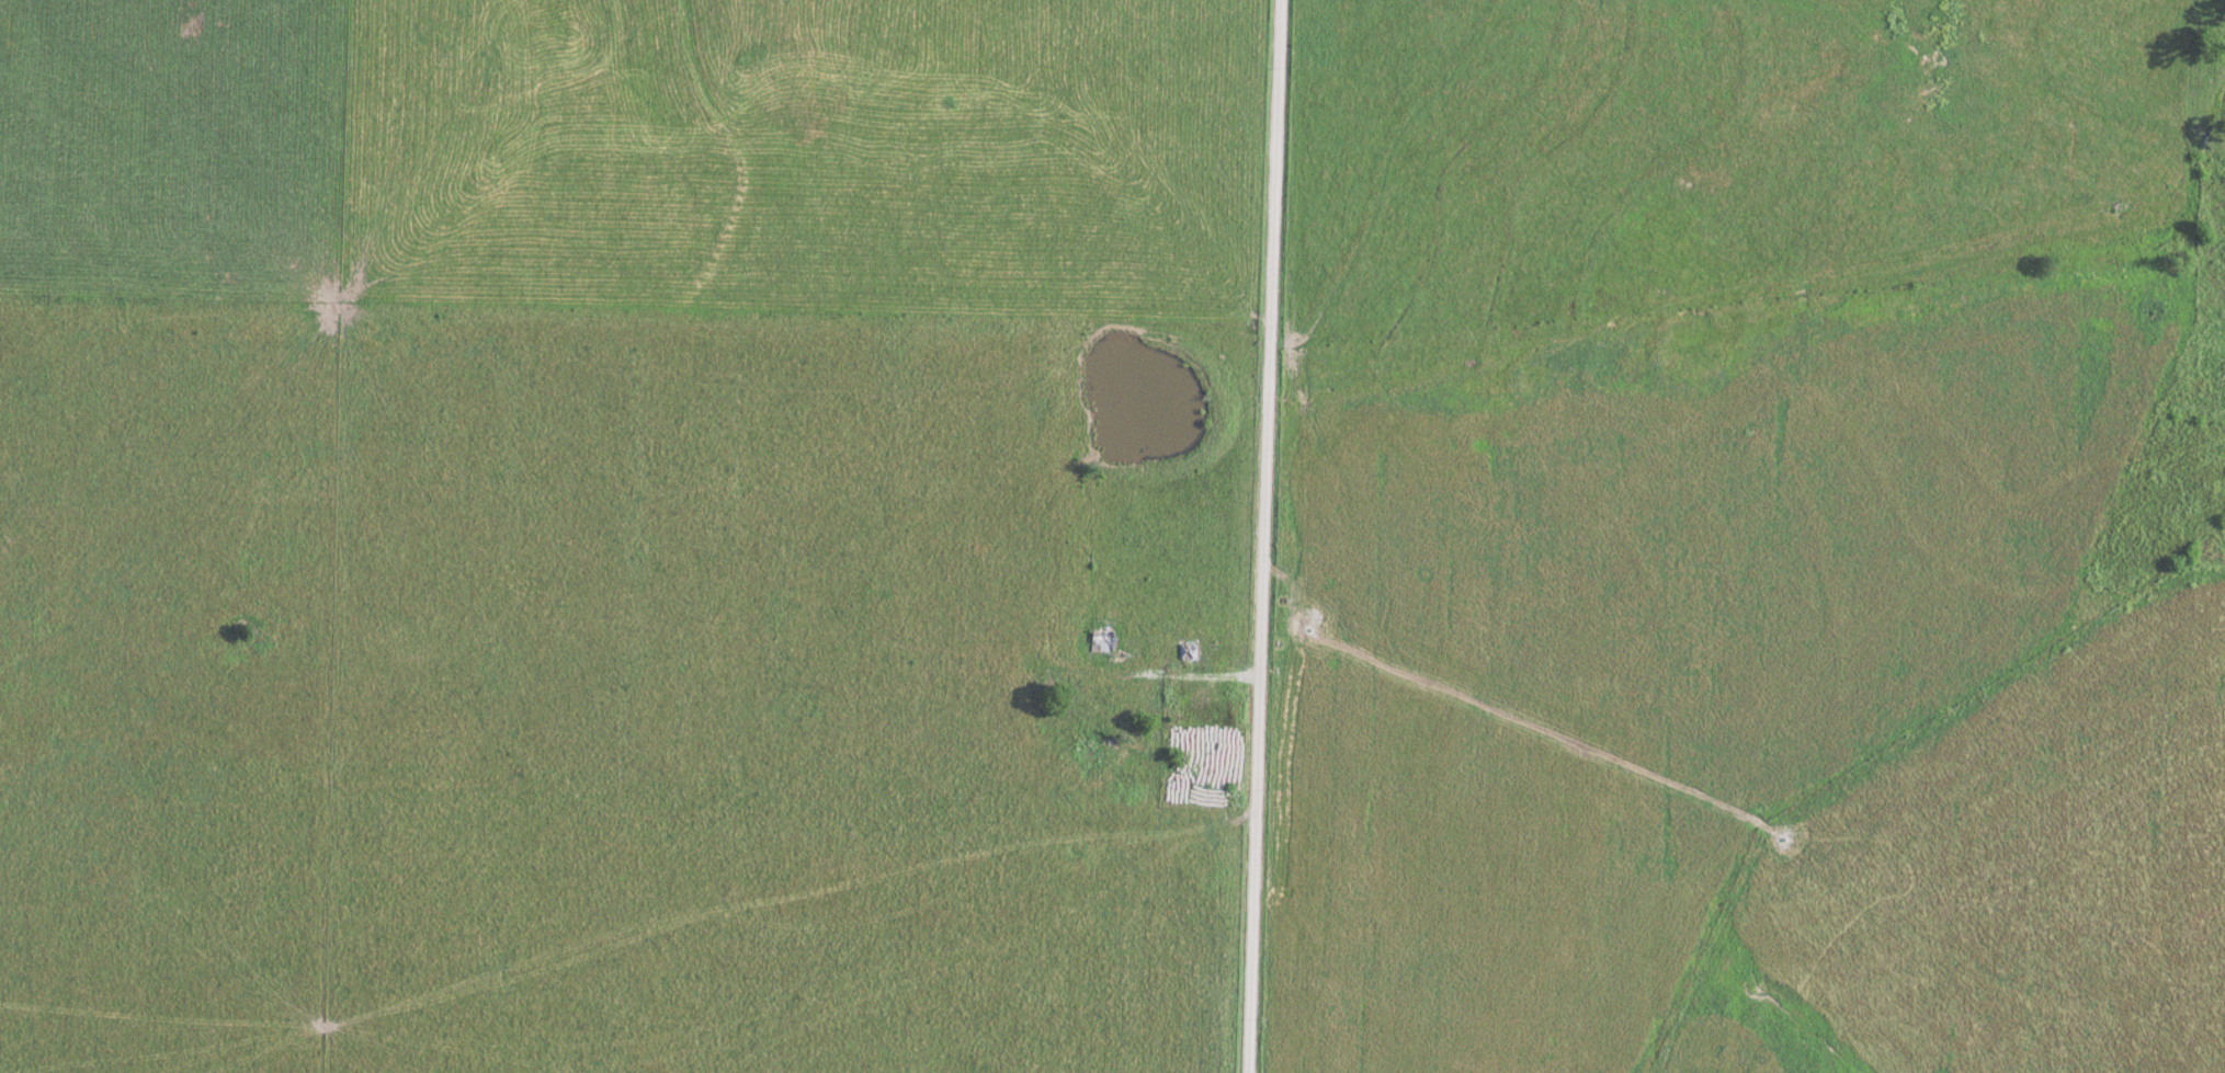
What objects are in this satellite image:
road: (1262, 536)
building: (1102, 641)

